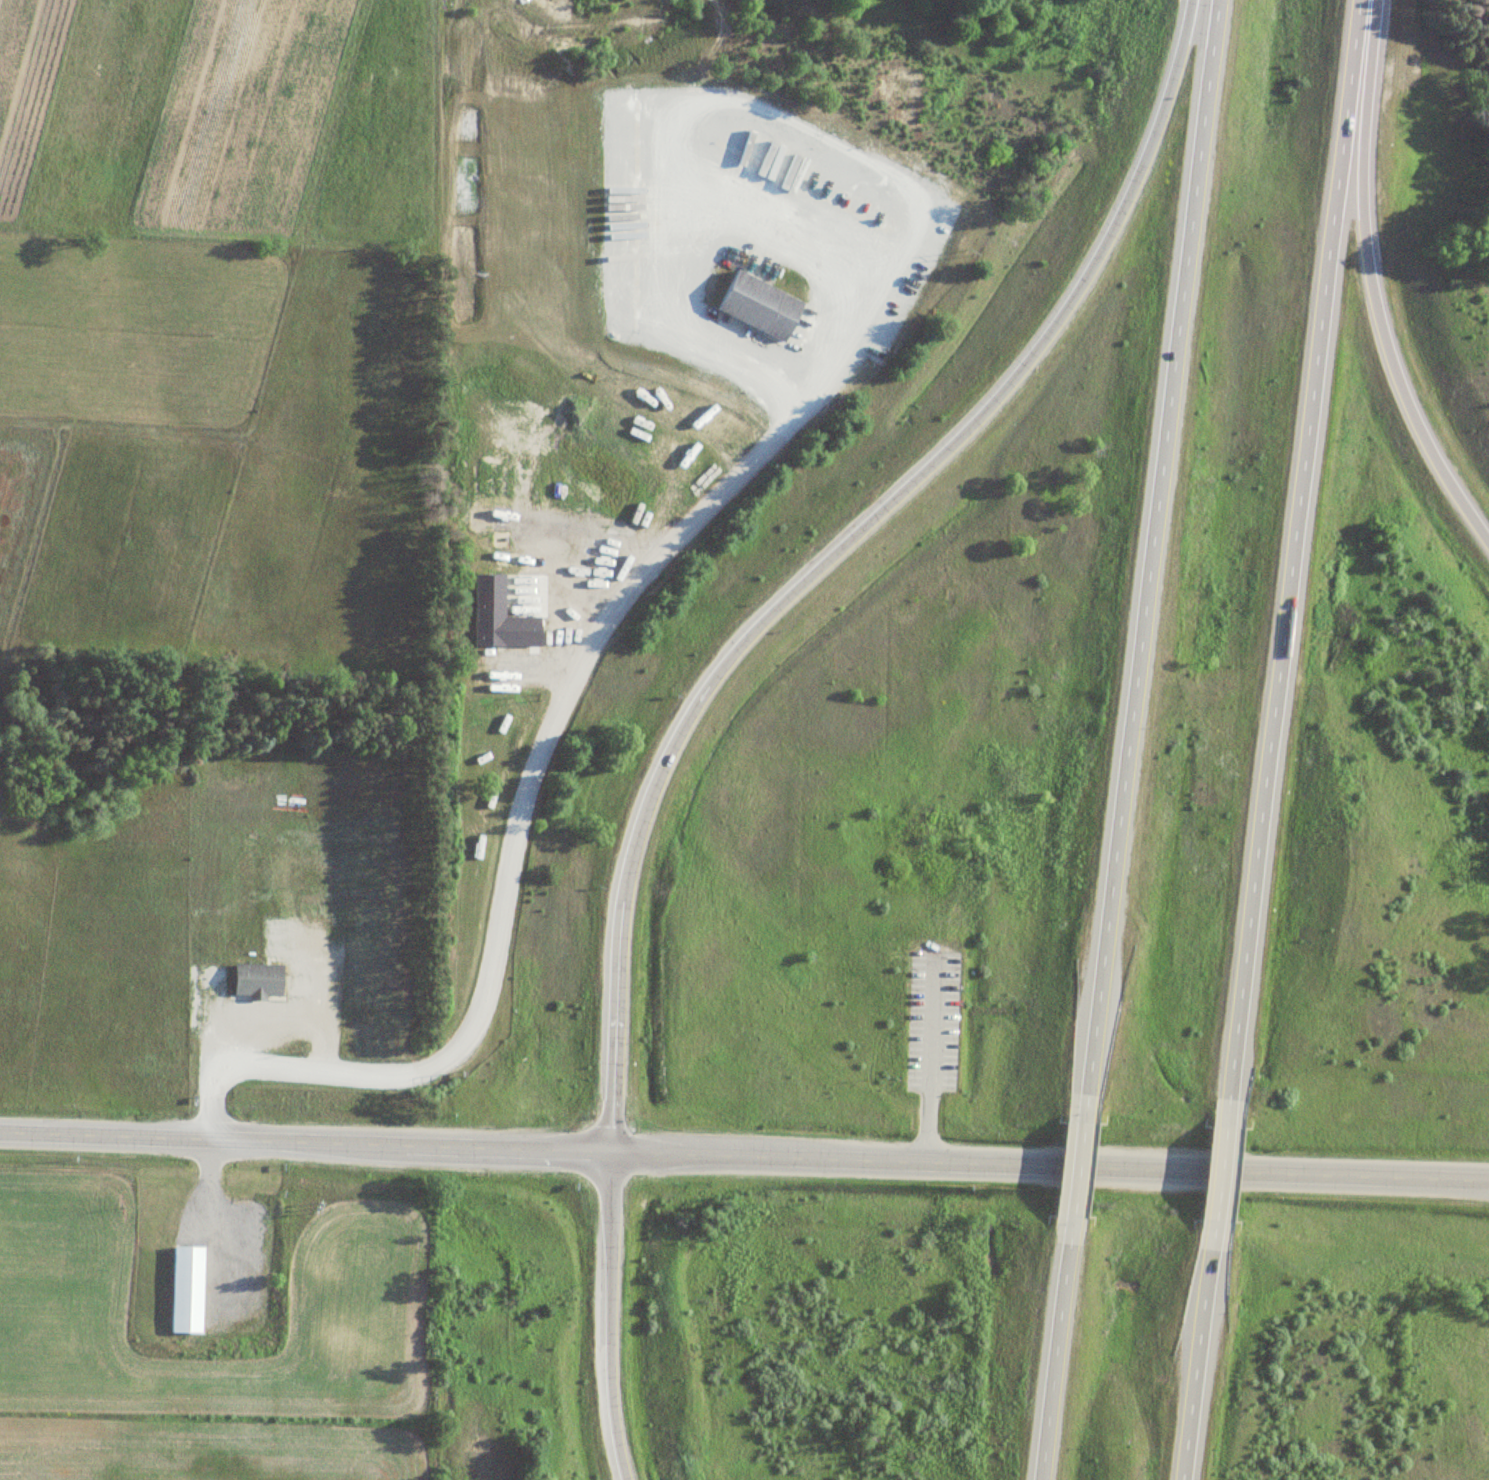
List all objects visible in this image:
building: (470, 126)
building: (678, 227)
road: (1371, 285)
building: (760, 305)
building: (794, 429)
road: (1150, 546)
road: (1292, 547)
road: (831, 552)
building: (498, 617)
building: (1252, 934)
building: (257, 981)
road: (304, 1144)
road: (1049, 1167)
road: (1077, 1167)
road: (1218, 1171)
building: (186, 1289)
road: (608, 1318)
road: (1053, 1361)
road: (1194, 1363)

